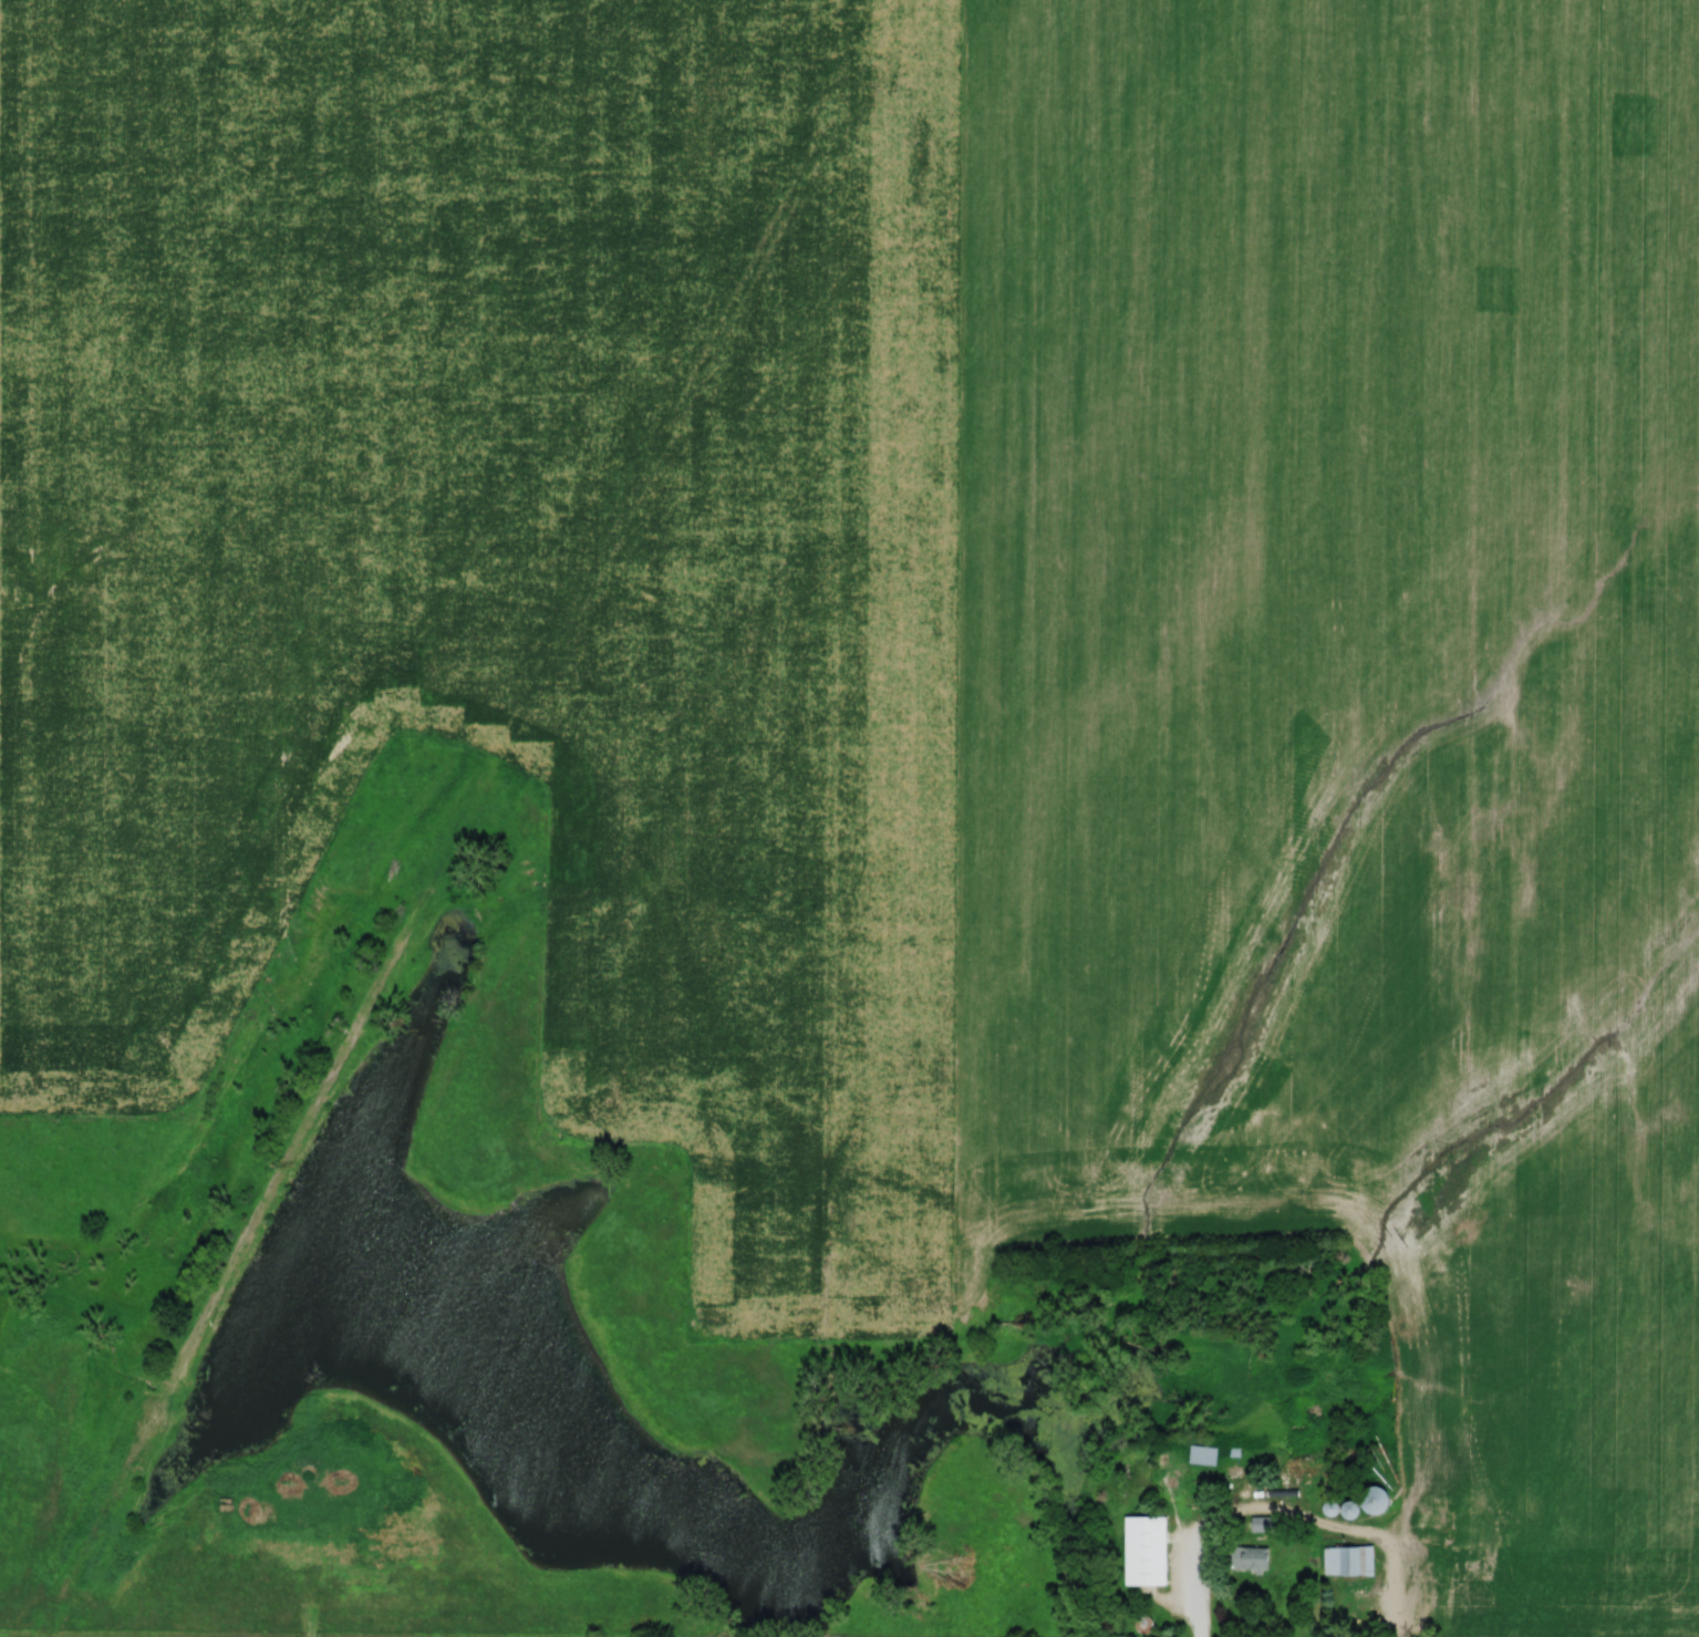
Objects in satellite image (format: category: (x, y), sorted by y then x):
building: (1206, 1455)
road: (1286, 1517)
building: (1148, 1550)
building: (1350, 1562)

